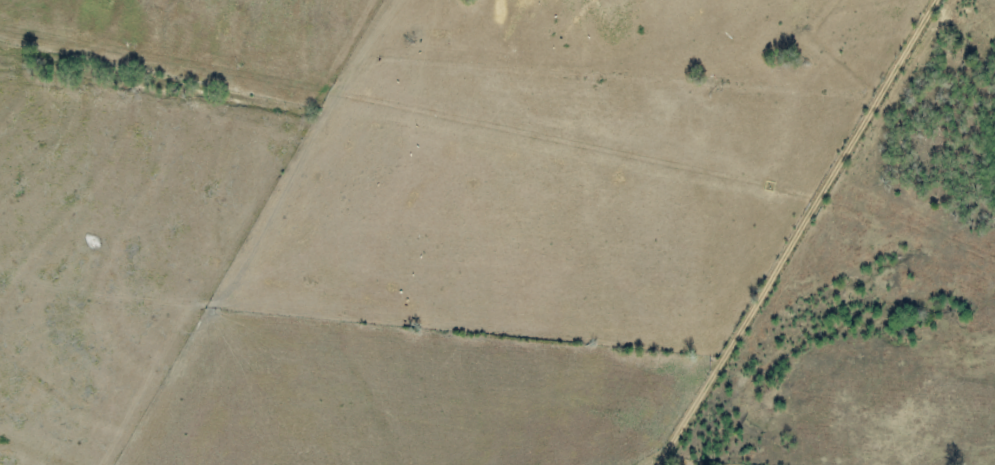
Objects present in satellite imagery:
road: (810, 239)

